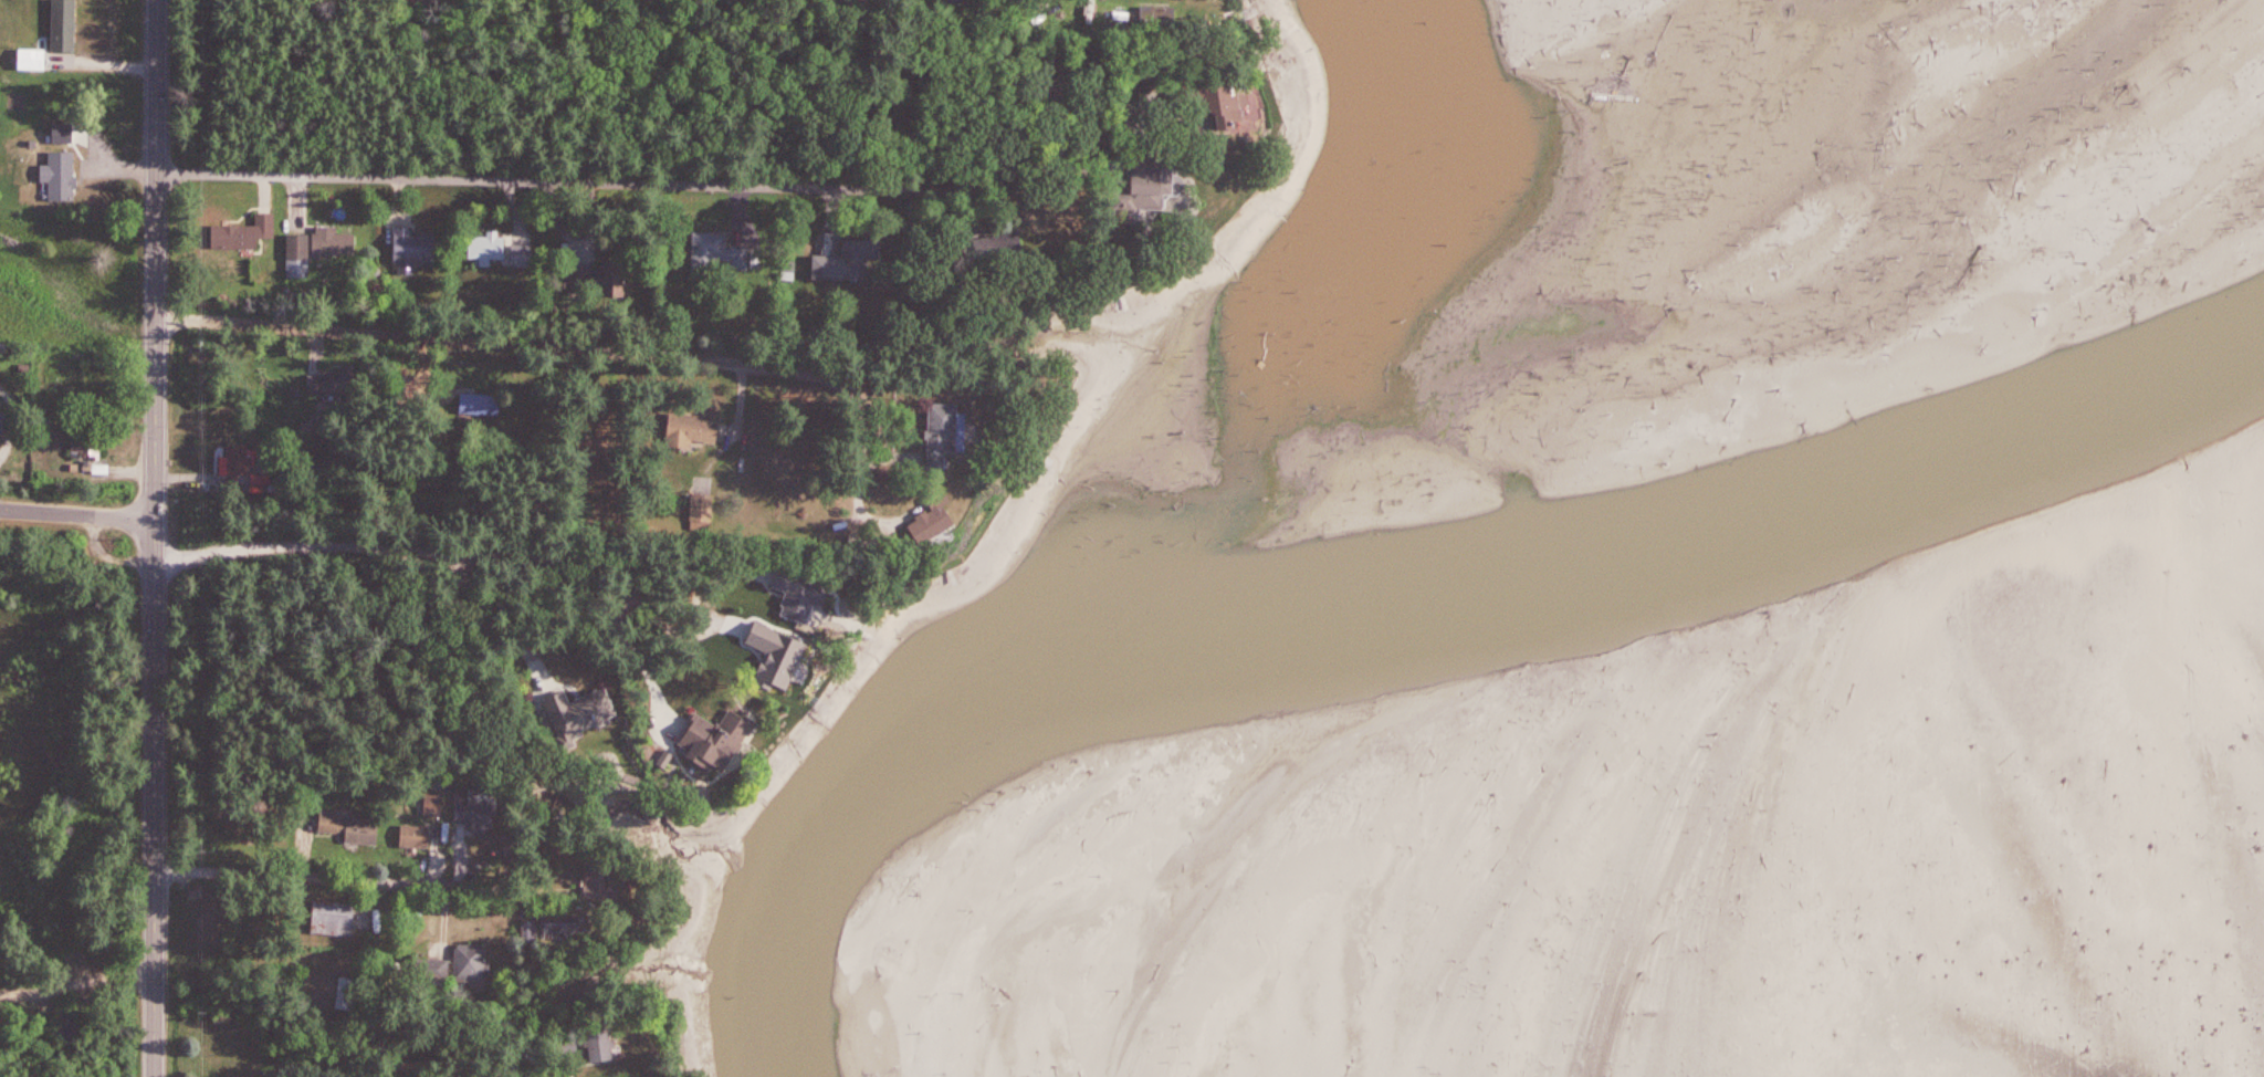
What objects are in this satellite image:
building: (958, 0)
building: (1236, 107)
road: (1102, 122)
road: (608, 184)
building: (1152, 184)
building: (247, 233)
building: (336, 243)
building: (491, 247)
building: (416, 249)
building: (720, 254)
building: (300, 255)
building: (524, 255)
building: (859, 260)
building: (600, 273)
road: (485, 343)
building: (335, 383)
road: (858, 401)
building: (483, 405)
building: (2, 421)
building: (696, 428)
building: (947, 435)
building: (87, 449)
building: (239, 464)
building: (704, 511)
road: (78, 515)
building: (937, 524)
road: (157, 537)
road: (401, 545)
road: (706, 557)
road: (489, 617)
river: (1412, 617)
road: (621, 632)
building: (724, 740)
building: (438, 807)
building: (480, 814)
building: (355, 829)
building: (419, 837)
road: (328, 879)
building: (602, 879)
building: (336, 919)
building: (568, 924)
building: (473, 964)
building: (433, 970)
road: (76, 976)
building: (346, 994)
building: (605, 1045)

